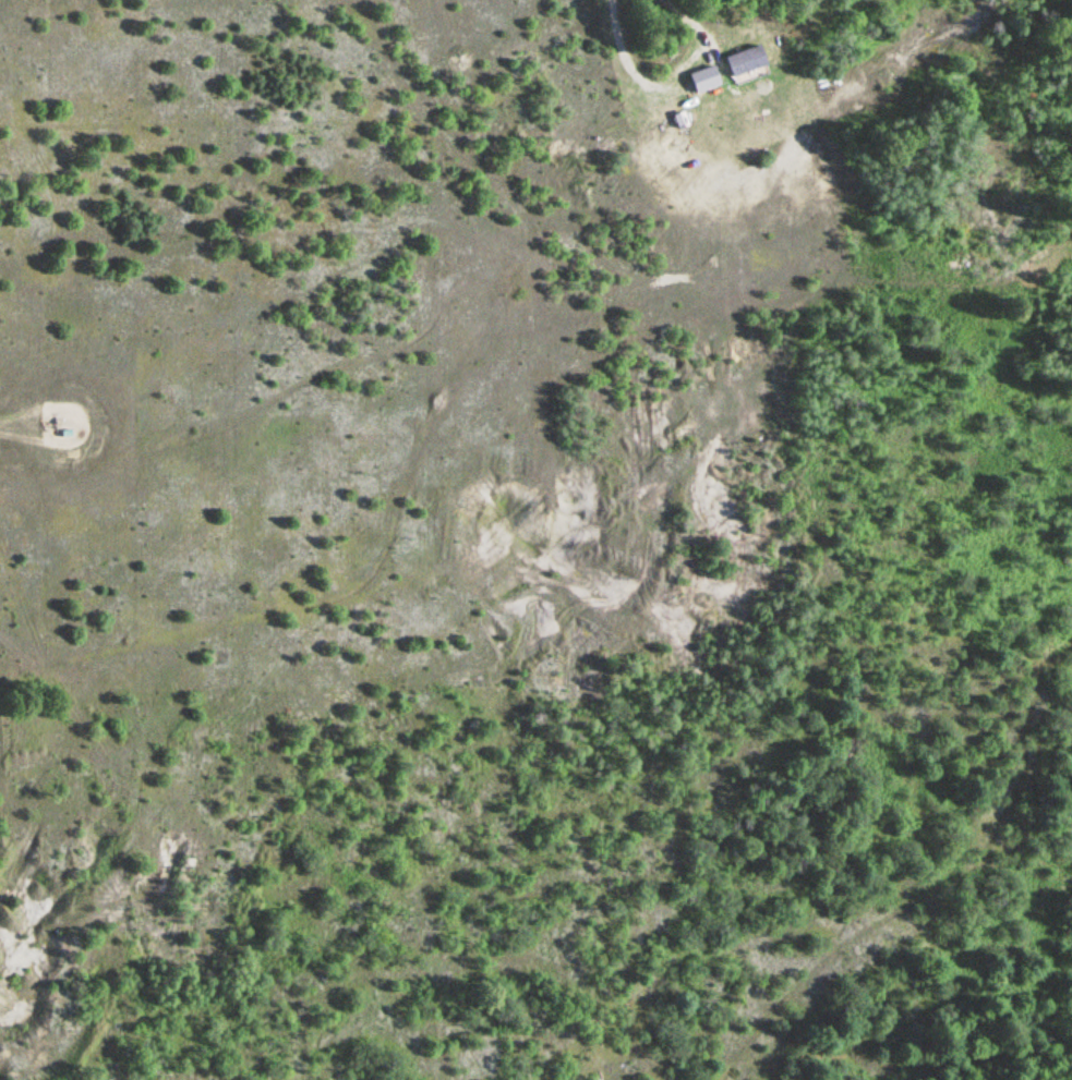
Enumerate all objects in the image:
building: (744, 61)
road: (97, 424)
petroleum well: (55, 427)

